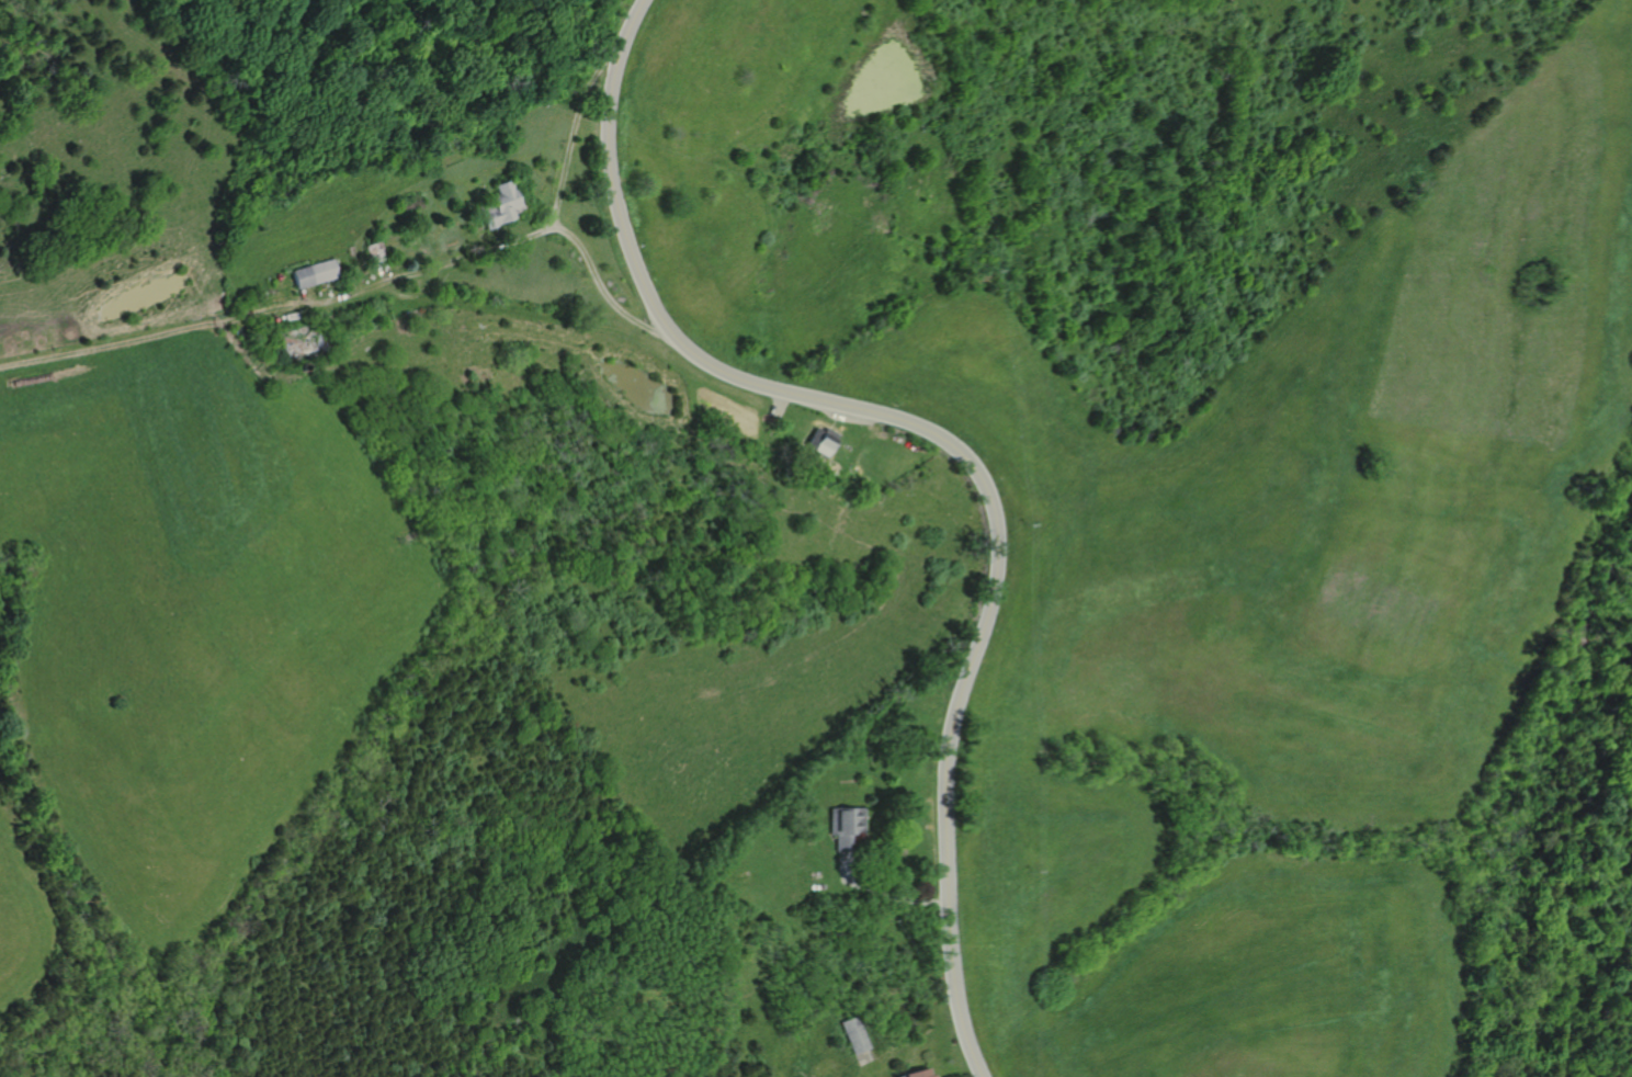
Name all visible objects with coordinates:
building: (501, 204)
road: (553, 215)
building: (376, 251)
road: (434, 267)
building: (315, 273)
road: (156, 336)
building: (303, 340)
road: (781, 407)
building: (825, 440)
road: (951, 444)
building: (847, 826)
road: (883, 895)
building: (862, 1034)
building: (925, 1074)

